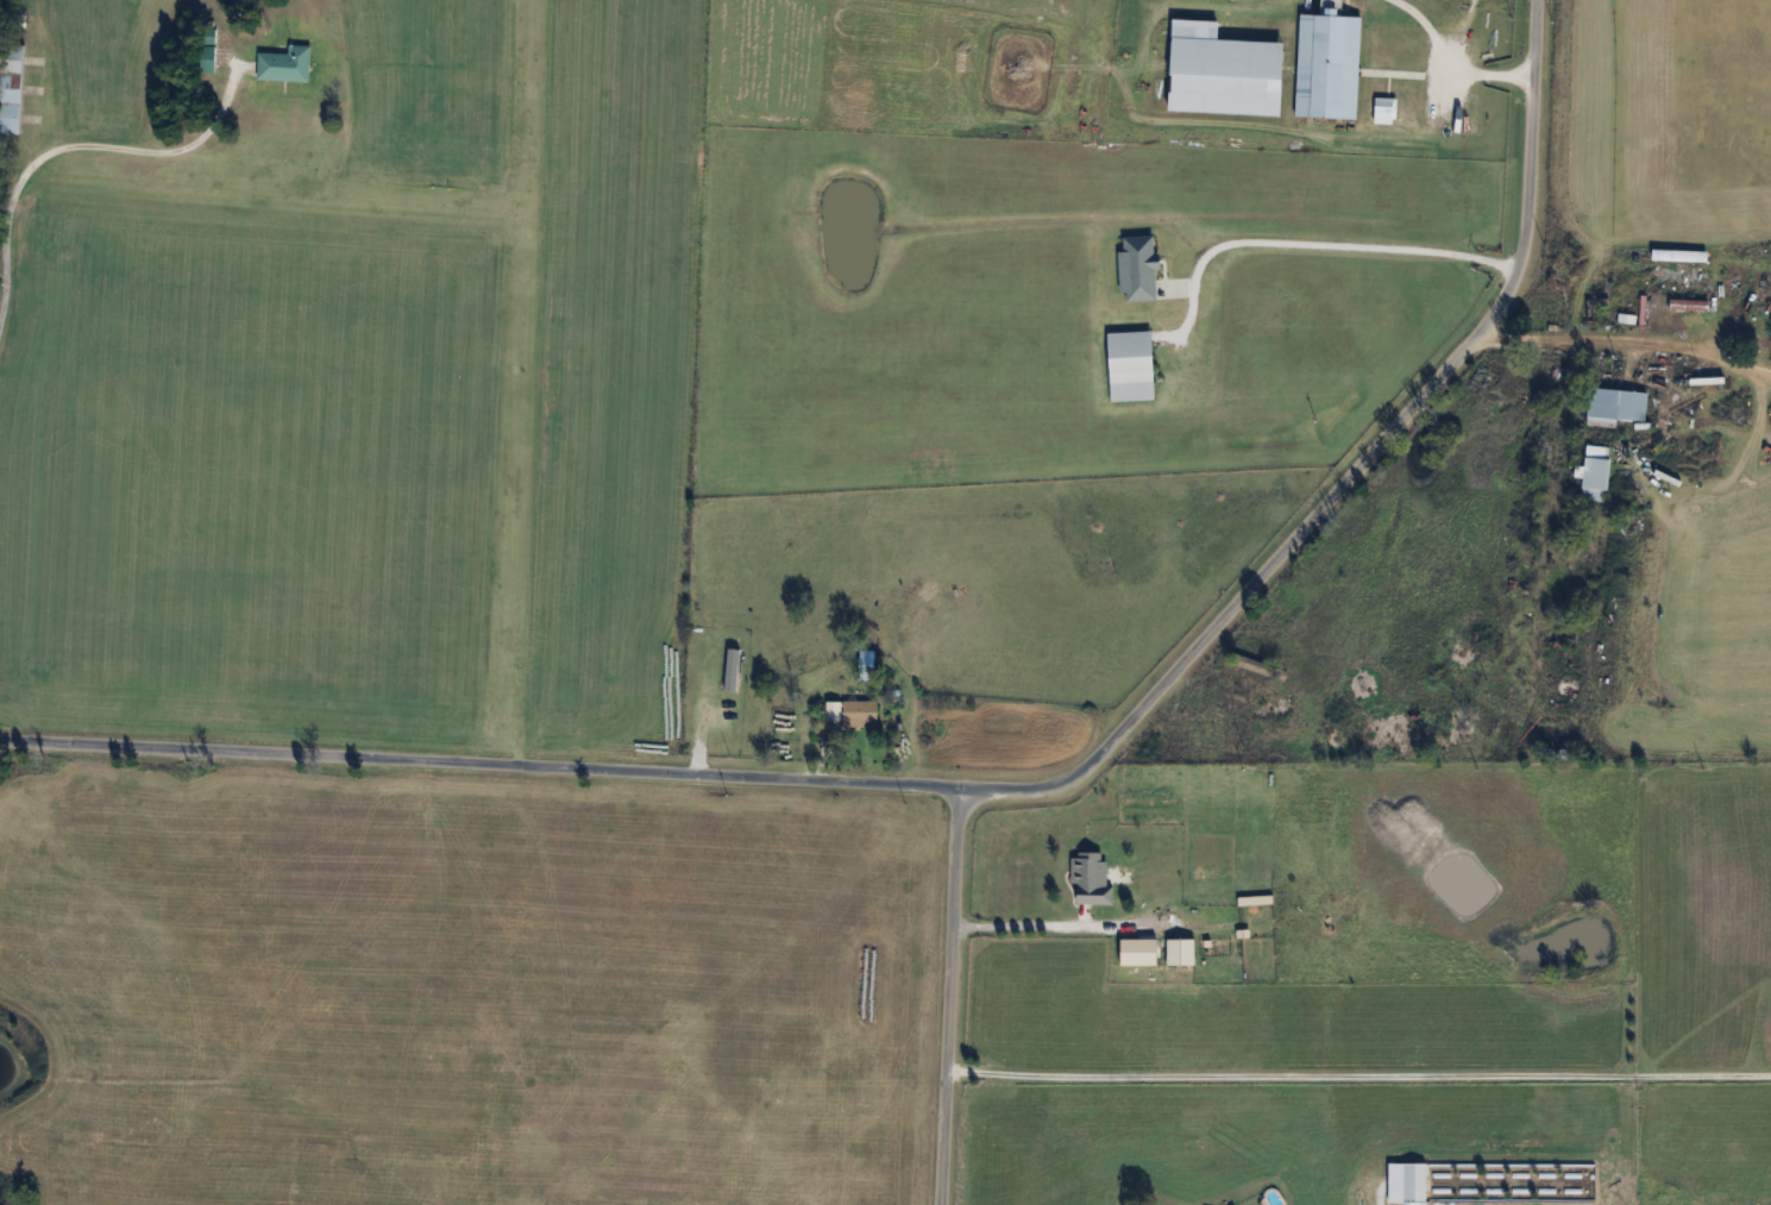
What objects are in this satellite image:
building: (1408, 39)
building: (288, 64)
road: (1487, 73)
airport hangar: (12, 83)
building: (12, 86)
road: (83, 145)
road: (1318, 250)
building: (1689, 303)
airport runway: (515, 357)
building: (1133, 364)
building: (1616, 406)
road: (1354, 471)
building: (1593, 475)
building: (868, 659)
building: (1264, 666)
building: (854, 711)
road: (478, 761)
building: (1093, 879)
road: (1053, 930)
building: (1182, 952)
road: (948, 994)
road: (1357, 1074)

